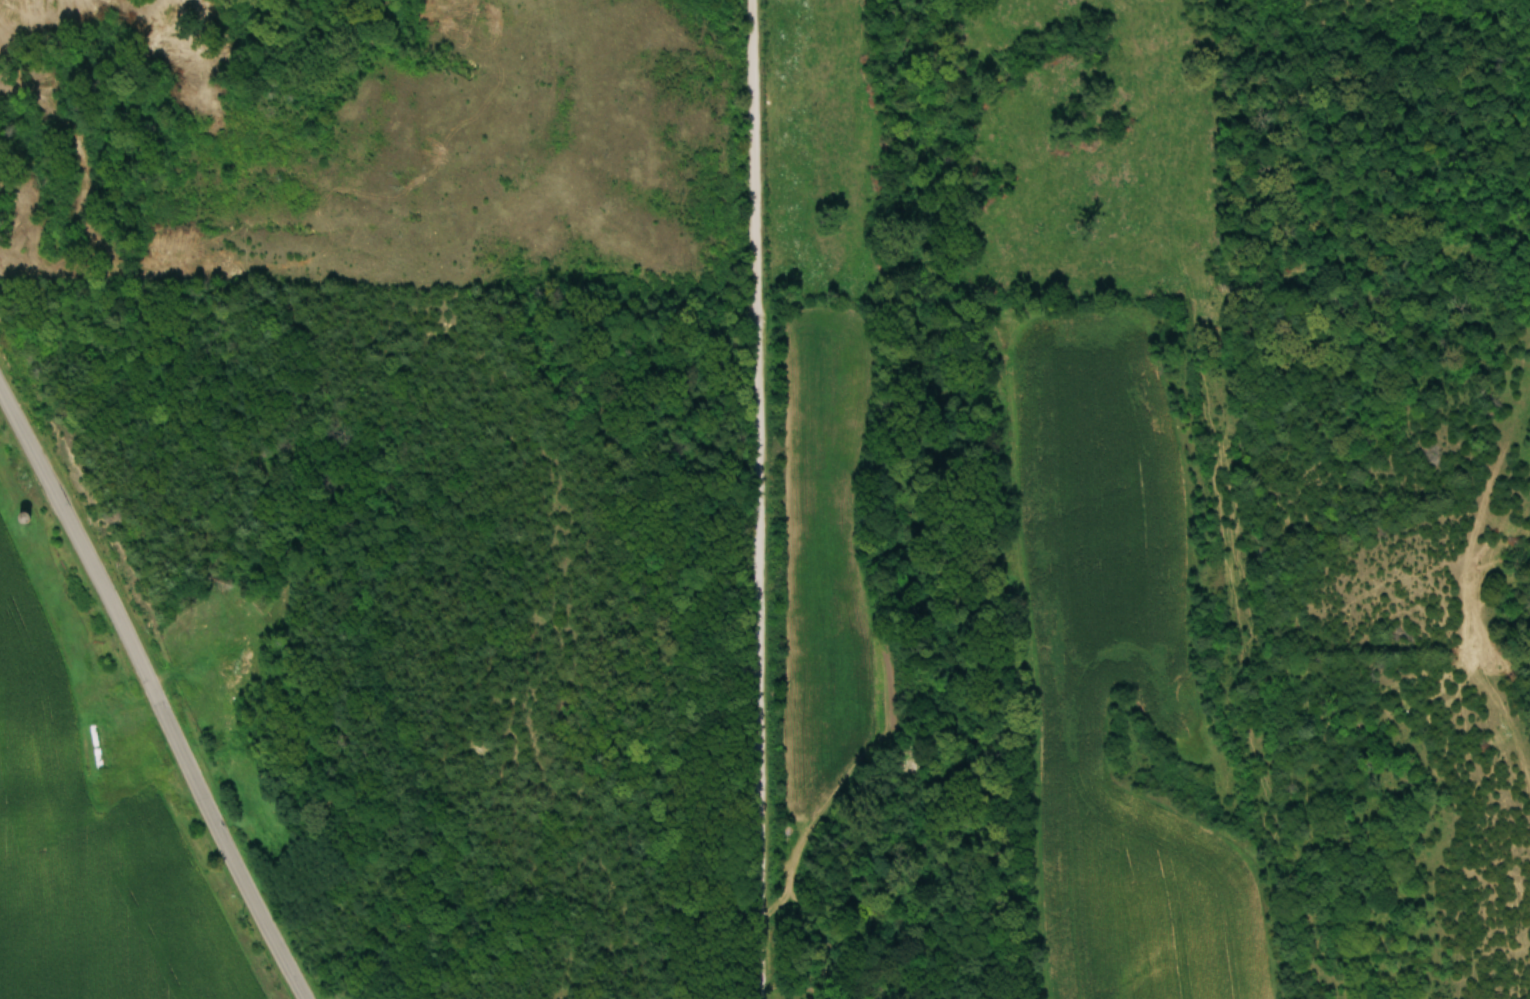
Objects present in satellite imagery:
road: (752, 499)
building: (237, 678)
road: (149, 691)

